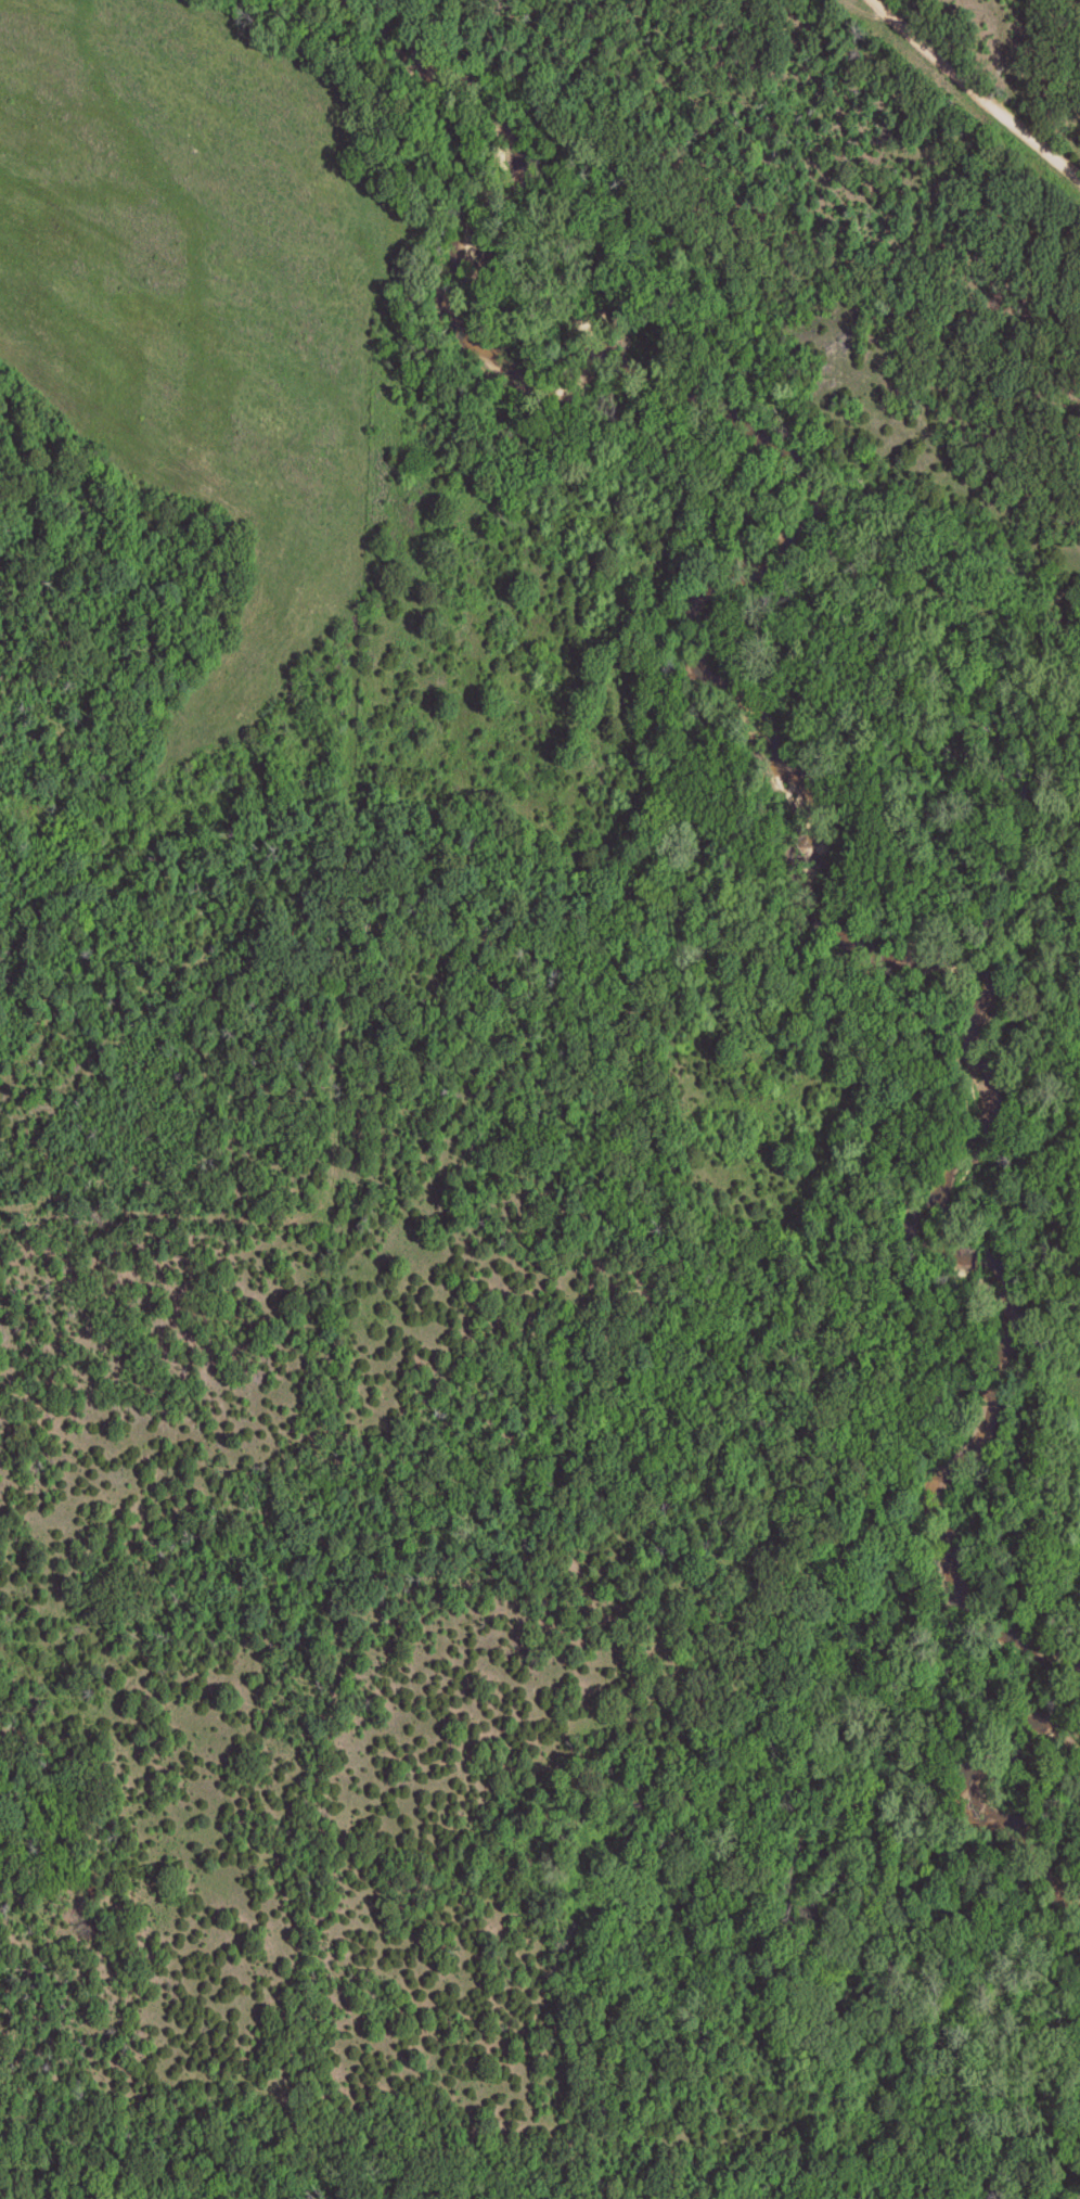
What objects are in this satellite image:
road: (969, 89)

